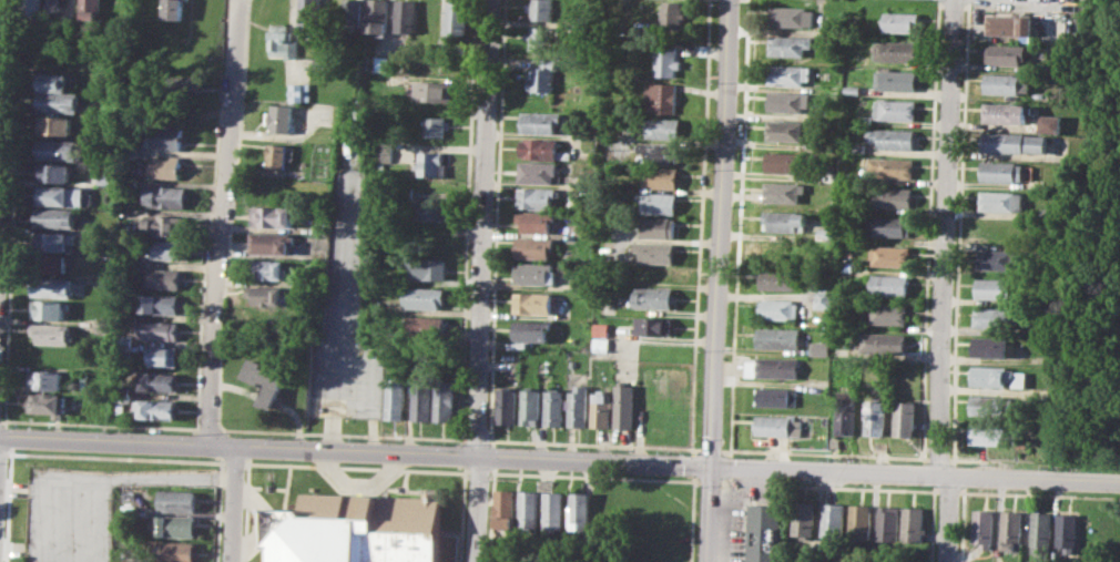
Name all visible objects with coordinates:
road: (1046, 1)
building: (35, 7)
building: (57, 9)
building: (89, 9)
building: (118, 9)
building: (173, 9)
building: (541, 10)
building: (352, 12)
building: (672, 16)
building: (793, 16)
building: (309, 17)
building: (378, 17)
building: (406, 17)
building: (456, 19)
building: (902, 20)
building: (1009, 25)
building: (539, 38)
building: (283, 41)
building: (790, 44)
building: (900, 52)
building: (1006, 53)
building: (665, 60)
building: (381, 63)
building: (790, 73)
building: (542, 75)
building: (898, 79)
building: (53, 81)
building: (194, 83)
building: (1006, 83)
building: (855, 89)
building: (434, 90)
building: (302, 91)
building: (660, 98)
building: (790, 101)
building: (60, 102)
road: (4, 103)
building: (898, 110)
building: (1006, 112)
building: (282, 117)
building: (866, 117)
building: (540, 122)
building: (1049, 123)
building: (57, 124)
building: (434, 126)
building: (659, 126)
building: (785, 130)
building: (170, 136)
building: (894, 137)
building: (1015, 142)
building: (541, 147)
building: (59, 150)
building: (661, 152)
building: (278, 155)
building: (785, 162)
building: (431, 164)
building: (166, 166)
building: (893, 166)
building: (537, 171)
building: (1002, 171)
building: (53, 172)
building: (660, 177)
building: (785, 191)
building: (60, 195)
building: (166, 196)
building: (537, 197)
building: (896, 197)
building: (1001, 201)
building: (658, 202)
building: (432, 208)
building: (274, 215)
building: (55, 218)
building: (787, 219)
building: (537, 221)
road: (225, 222)
building: (166, 225)
building: (659, 226)
building: (892, 226)
road: (700, 227)
road: (720, 233)
road: (946, 238)
building: (54, 241)
building: (272, 242)
building: (534, 246)
building: (776, 248)
building: (167, 249)
building: (656, 252)
building: (851, 255)
building: (894, 255)
building: (999, 258)
building: (50, 264)
building: (848, 266)
building: (426, 267)
building: (269, 268)
building: (654, 273)
building: (536, 274)
building: (163, 278)
building: (785, 278)
road: (483, 280)
building: (893, 285)
building: (53, 287)
building: (998, 287)
building: (269, 295)
building: (655, 296)
building: (422, 297)
building: (825, 299)
building: (532, 303)
building: (160, 304)
building: (50, 309)
road: (338, 309)
building: (781, 309)
building: (892, 314)
parking lot: (345, 315)
building: (1001, 316)
building: (104, 325)
building: (655, 325)
building: (426, 326)
building: (159, 328)
building: (1039, 328)
building: (531, 329)
building: (600, 329)
building: (51, 333)
building: (782, 338)
building: (887, 343)
building: (600, 345)
building: (992, 347)
building: (823, 348)
building: (164, 357)
building: (774, 366)
building: (1000, 376)
building: (45, 379)
building: (265, 380)
building: (159, 381)
building: (124, 394)
building: (778, 397)
building: (394, 398)
building: (420, 398)
building: (444, 398)
building: (47, 403)
building: (507, 405)
building: (625, 405)
building: (996, 405)
building: (530, 406)
building: (578, 406)
building: (553, 407)
building: (154, 409)
building: (601, 410)
building: (848, 411)
building: (877, 417)
building: (906, 418)
building: (780, 425)
building: (996, 432)
road: (355, 451)
road: (693, 463)
road: (915, 476)
road: (163, 477)
road: (358, 487)
road: (24, 488)
building: (176, 500)
road: (49, 504)
road: (233, 504)
building: (505, 508)
building: (529, 509)
building: (554, 510)
building: (580, 510)
building: (128, 513)
road: (710, 513)
parking lot: (70, 514)
road: (692, 518)
building: (834, 518)
road: (953, 519)
road: (258, 520)
building: (804, 520)
building: (861, 521)
building: (888, 523)
building: (913, 523)
road: (93, 524)
building: (176, 525)
building: (984, 527)
building: (357, 529)
building: (1011, 529)
building: (765, 530)
building: (1040, 530)
building: (1068, 530)
road: (23, 549)
building: (175, 551)

